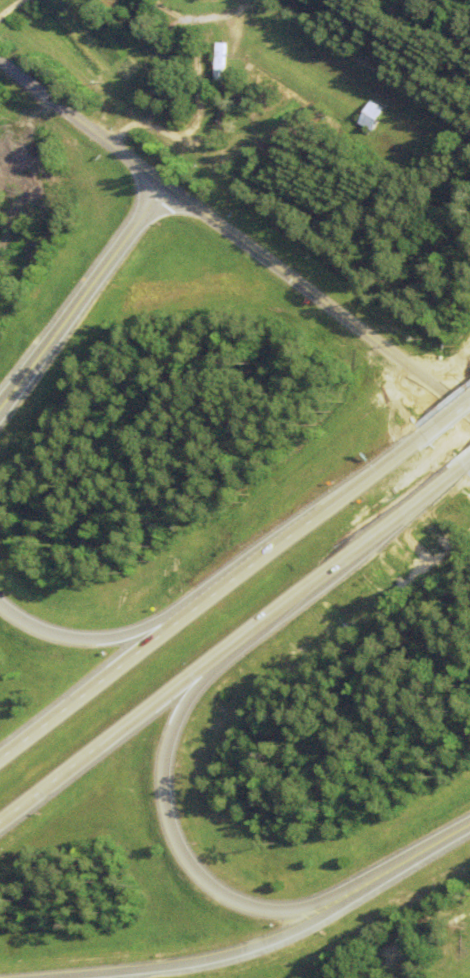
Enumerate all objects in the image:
building: (220, 64)
building: (372, 116)
road: (236, 239)
road: (82, 294)
road: (444, 417)
road: (466, 471)
road: (302, 524)
road: (91, 639)
road: (229, 642)
road: (93, 682)
road: (174, 848)
road: (408, 859)
road: (203, 961)

